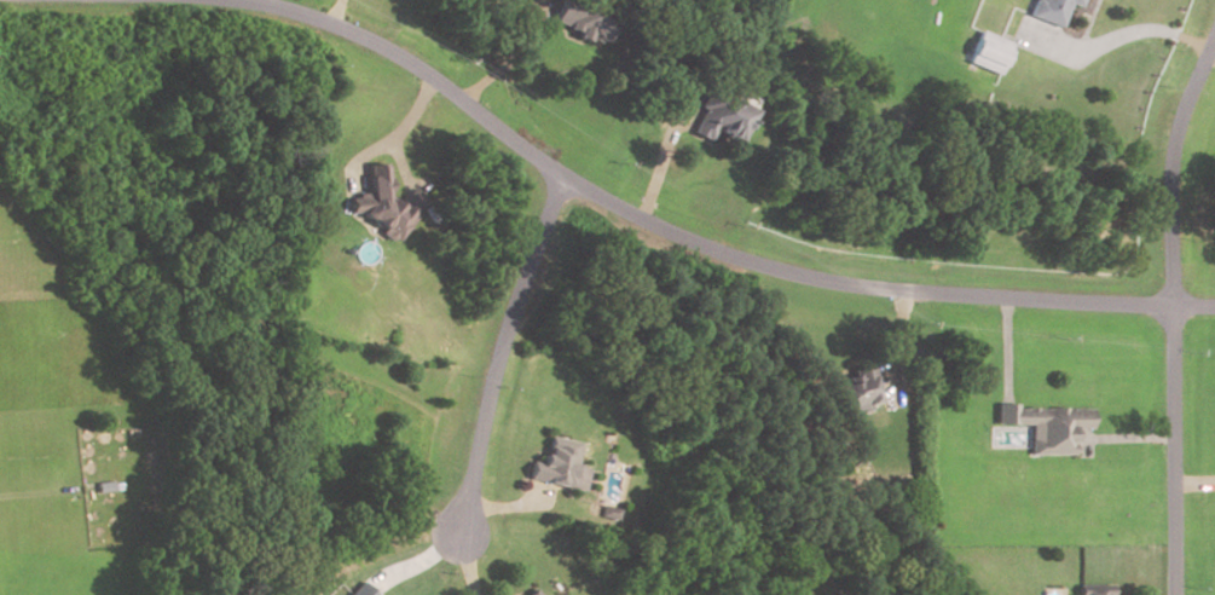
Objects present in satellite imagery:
road: (266, 2)
building: (1052, 11)
road: (335, 12)
building: (580, 19)
road: (1117, 39)
building: (990, 54)
road: (511, 62)
road: (1209, 62)
building: (718, 119)
road: (390, 139)
road: (1170, 168)
road: (658, 169)
building: (376, 202)
road: (687, 242)
road: (897, 340)
road: (1005, 348)
road: (499, 352)
building: (858, 387)
building: (1045, 427)
road: (1128, 438)
road: (1173, 450)
building: (557, 467)
road: (1193, 484)
road: (507, 507)
building: (608, 513)
road: (463, 565)
building: (360, 590)
building: (1093, 590)
building: (528, 593)

